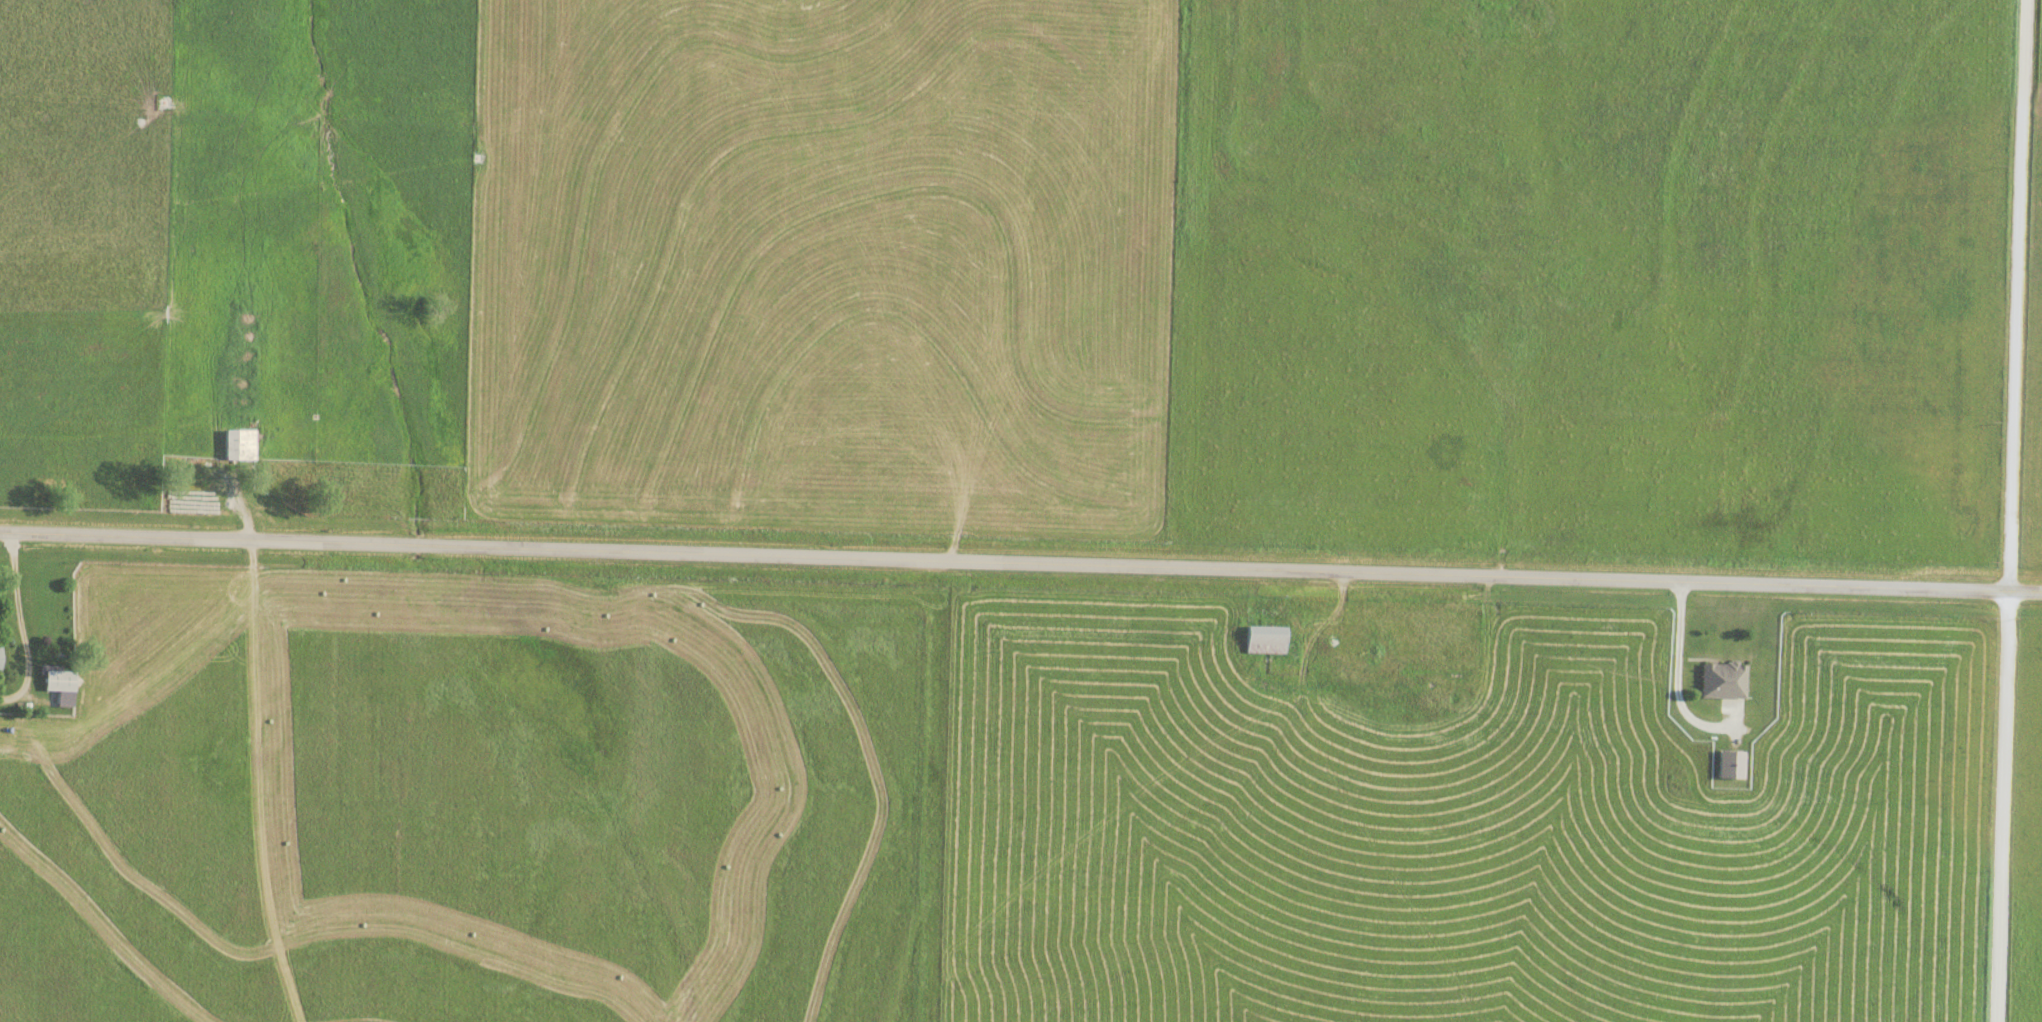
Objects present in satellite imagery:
building: (241, 444)
road: (2014, 511)
road: (168, 539)
road: (1189, 567)
road: (21, 628)
building: (1266, 639)
building: (1, 656)
building: (61, 679)
building: (1723, 679)
building: (1733, 764)

